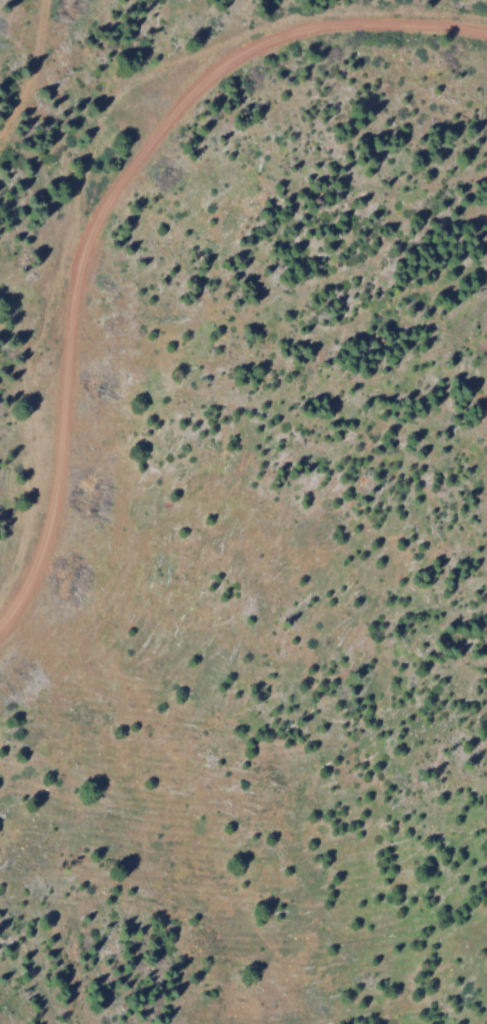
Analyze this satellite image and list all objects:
road: (107, 201)

